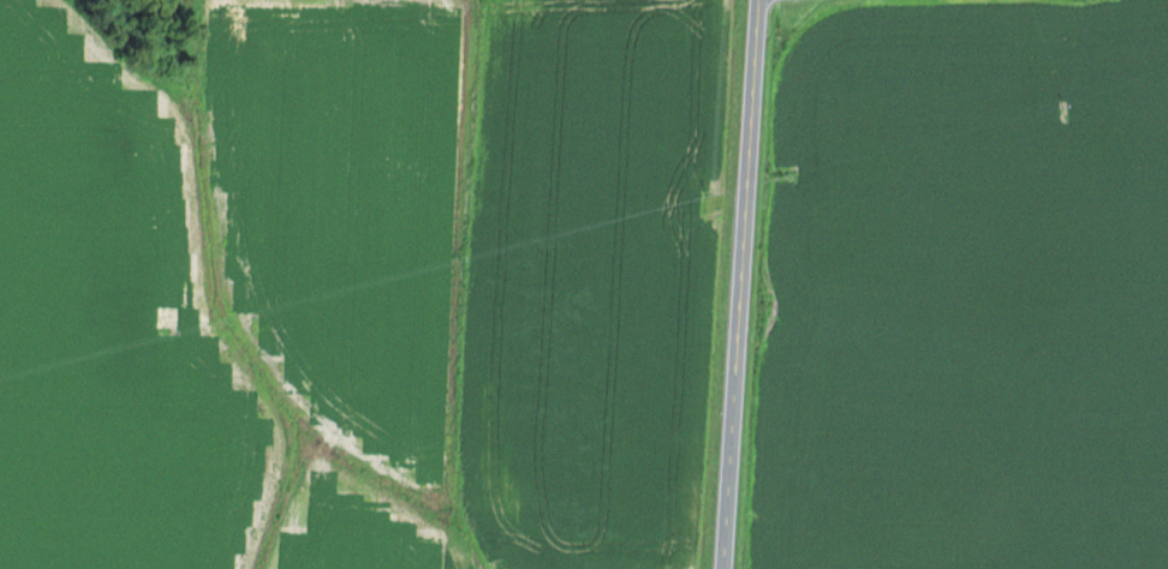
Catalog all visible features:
road: (740, 284)

